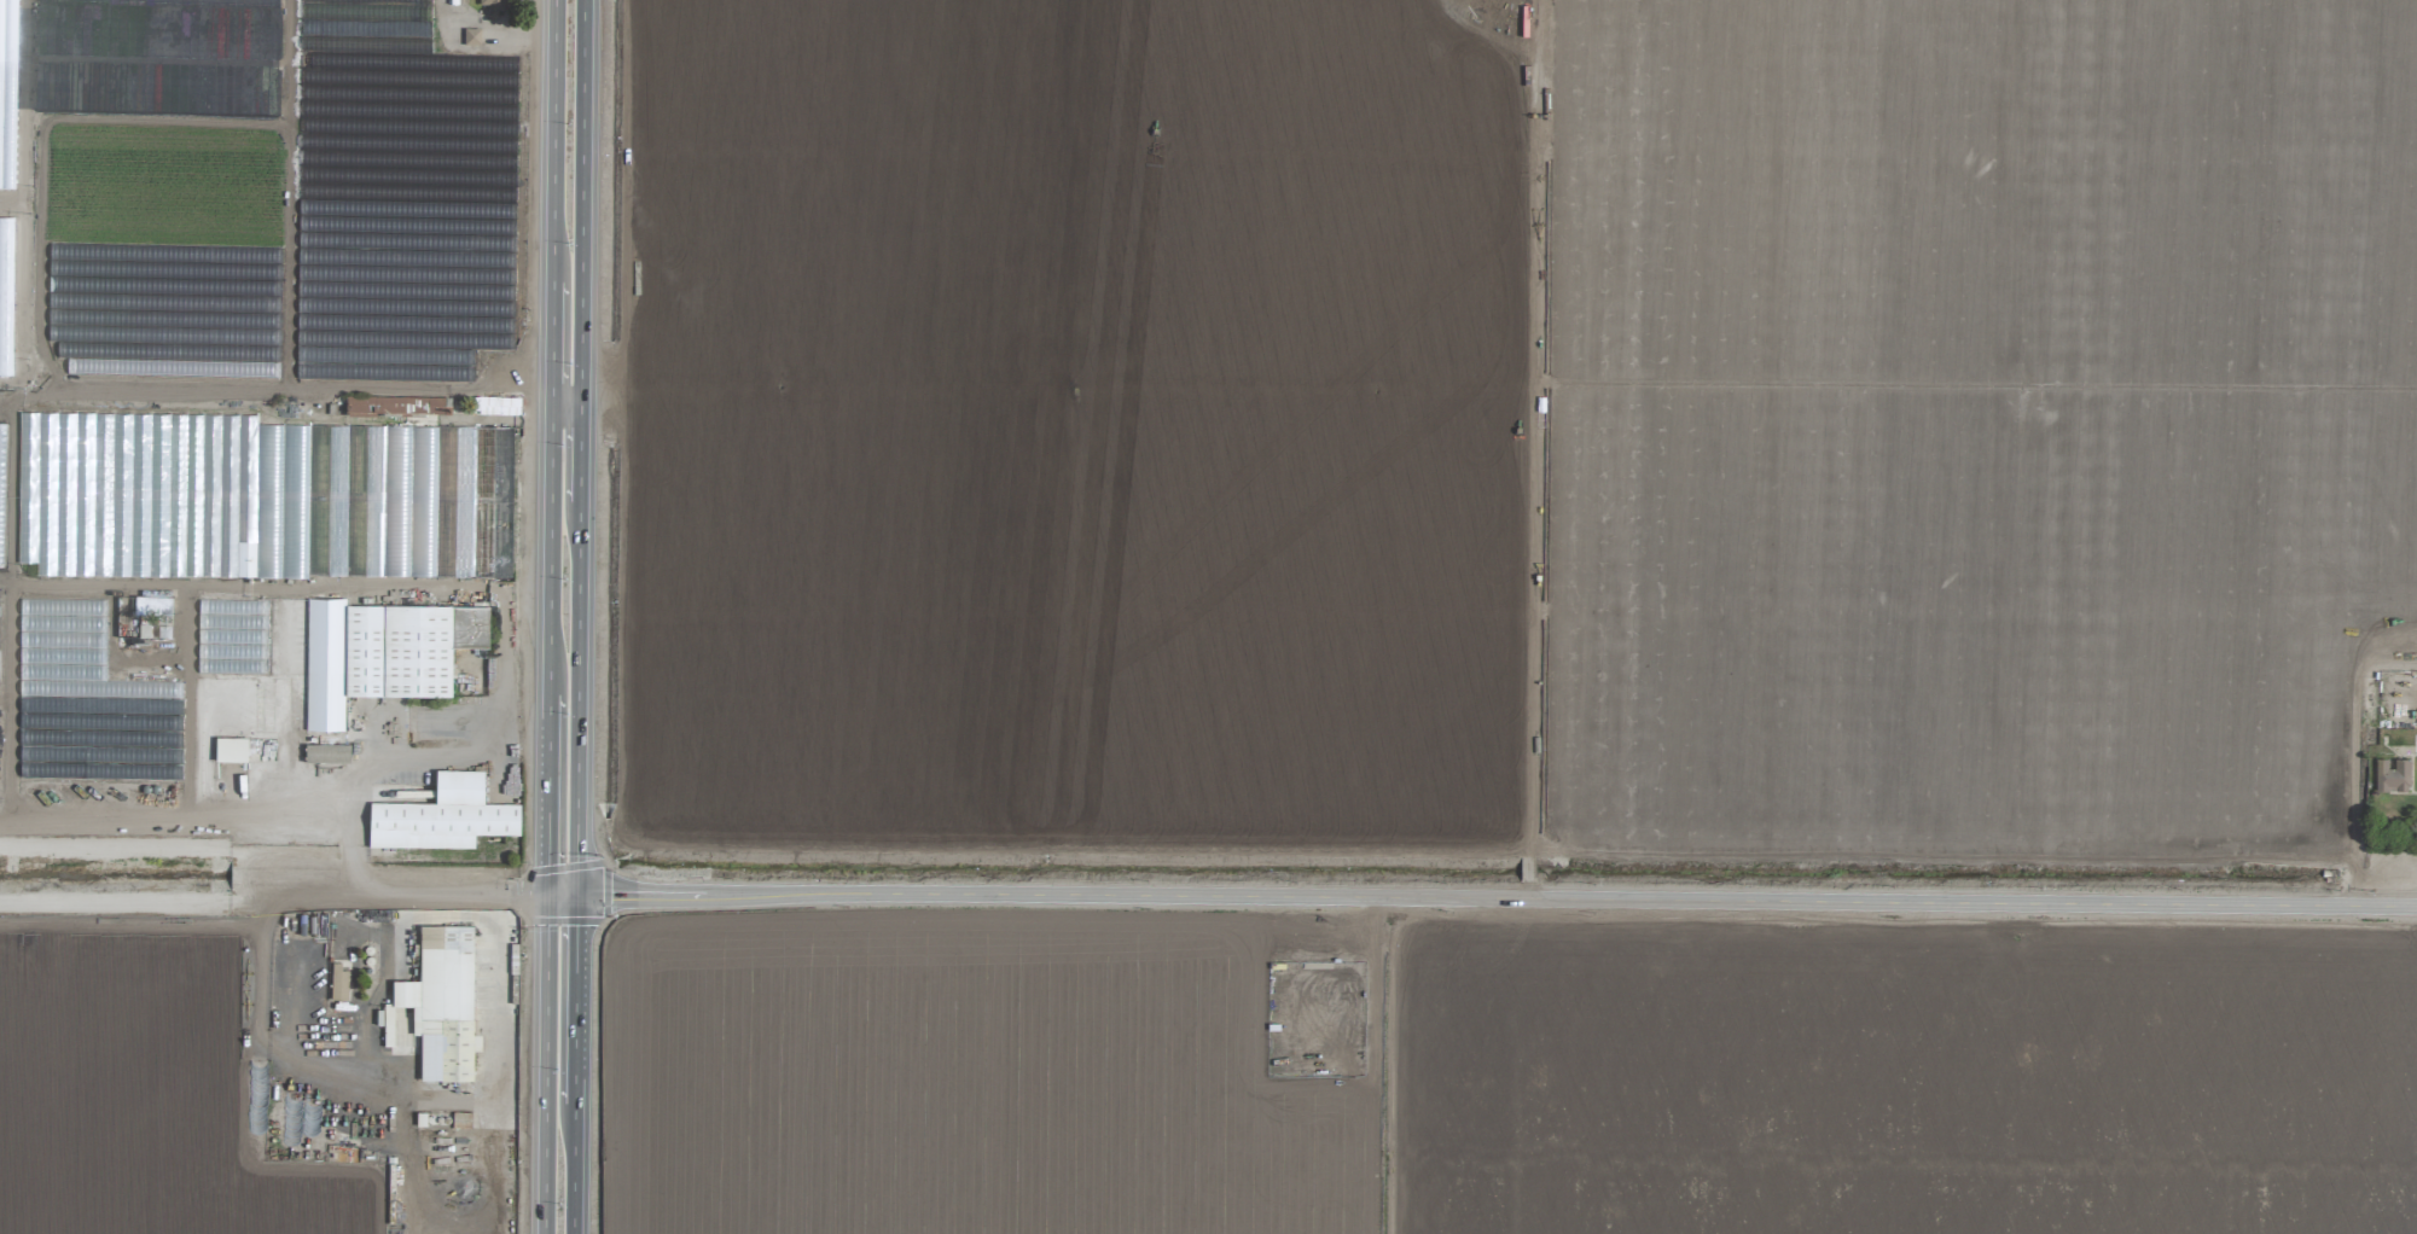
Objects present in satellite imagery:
building: (493, 6)
building: (6, 12)
building: (471, 37)
road: (33, 120)
road: (553, 141)
road: (24, 302)
road: (551, 343)
road: (565, 403)
building: (397, 406)
building: (496, 406)
building: (416, 494)
road: (548, 548)
building: (136, 612)
road: (577, 617)
crop: (1208, 617)
building: (250, 638)
building: (382, 653)
building: (231, 750)
building: (326, 753)
building: (2392, 775)
road: (362, 780)
road: (546, 793)
building: (443, 816)
road: (176, 851)
road: (1481, 898)
building: (338, 983)
building: (443, 1003)
road: (280, 1048)
road: (545, 1064)
road: (531, 1111)
building: (461, 1121)

